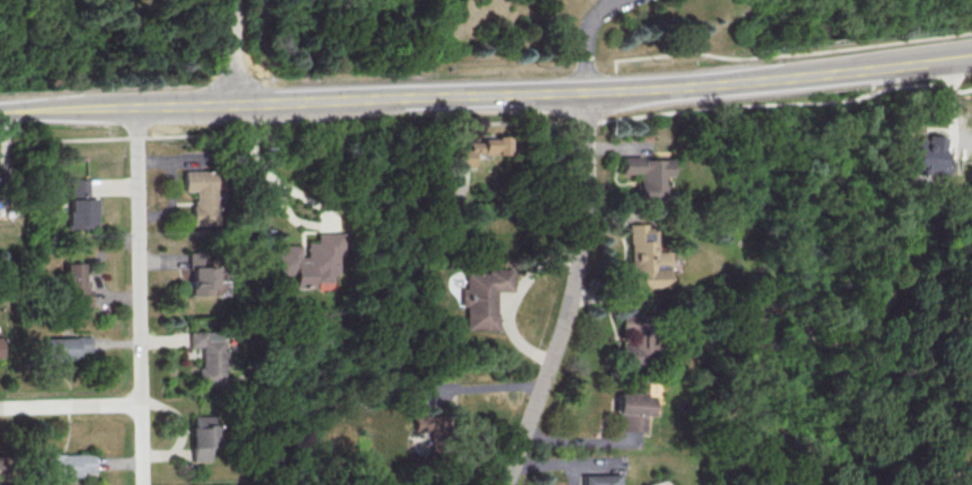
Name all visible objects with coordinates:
road: (584, 39)
river: (833, 44)
road: (230, 53)
road: (778, 54)
road: (942, 58)
road: (884, 66)
road: (836, 72)
road: (700, 86)
road: (405, 99)
road: (180, 107)
road: (66, 110)
road: (291, 131)
building: (479, 150)
building: (927, 156)
road: (258, 167)
building: (648, 177)
building: (197, 195)
building: (78, 205)
building: (645, 258)
building: (310, 262)
building: (197, 273)
building: (75, 284)
road: (571, 294)
road: (136, 297)
building: (484, 297)
road: (511, 298)
building: (633, 340)
river: (854, 343)
building: (66, 346)
building: (209, 356)
road: (486, 387)
road: (69, 405)
building: (632, 407)
building: (422, 422)
building: (201, 438)
building: (63, 467)
building: (0, 471)
building: (598, 480)

